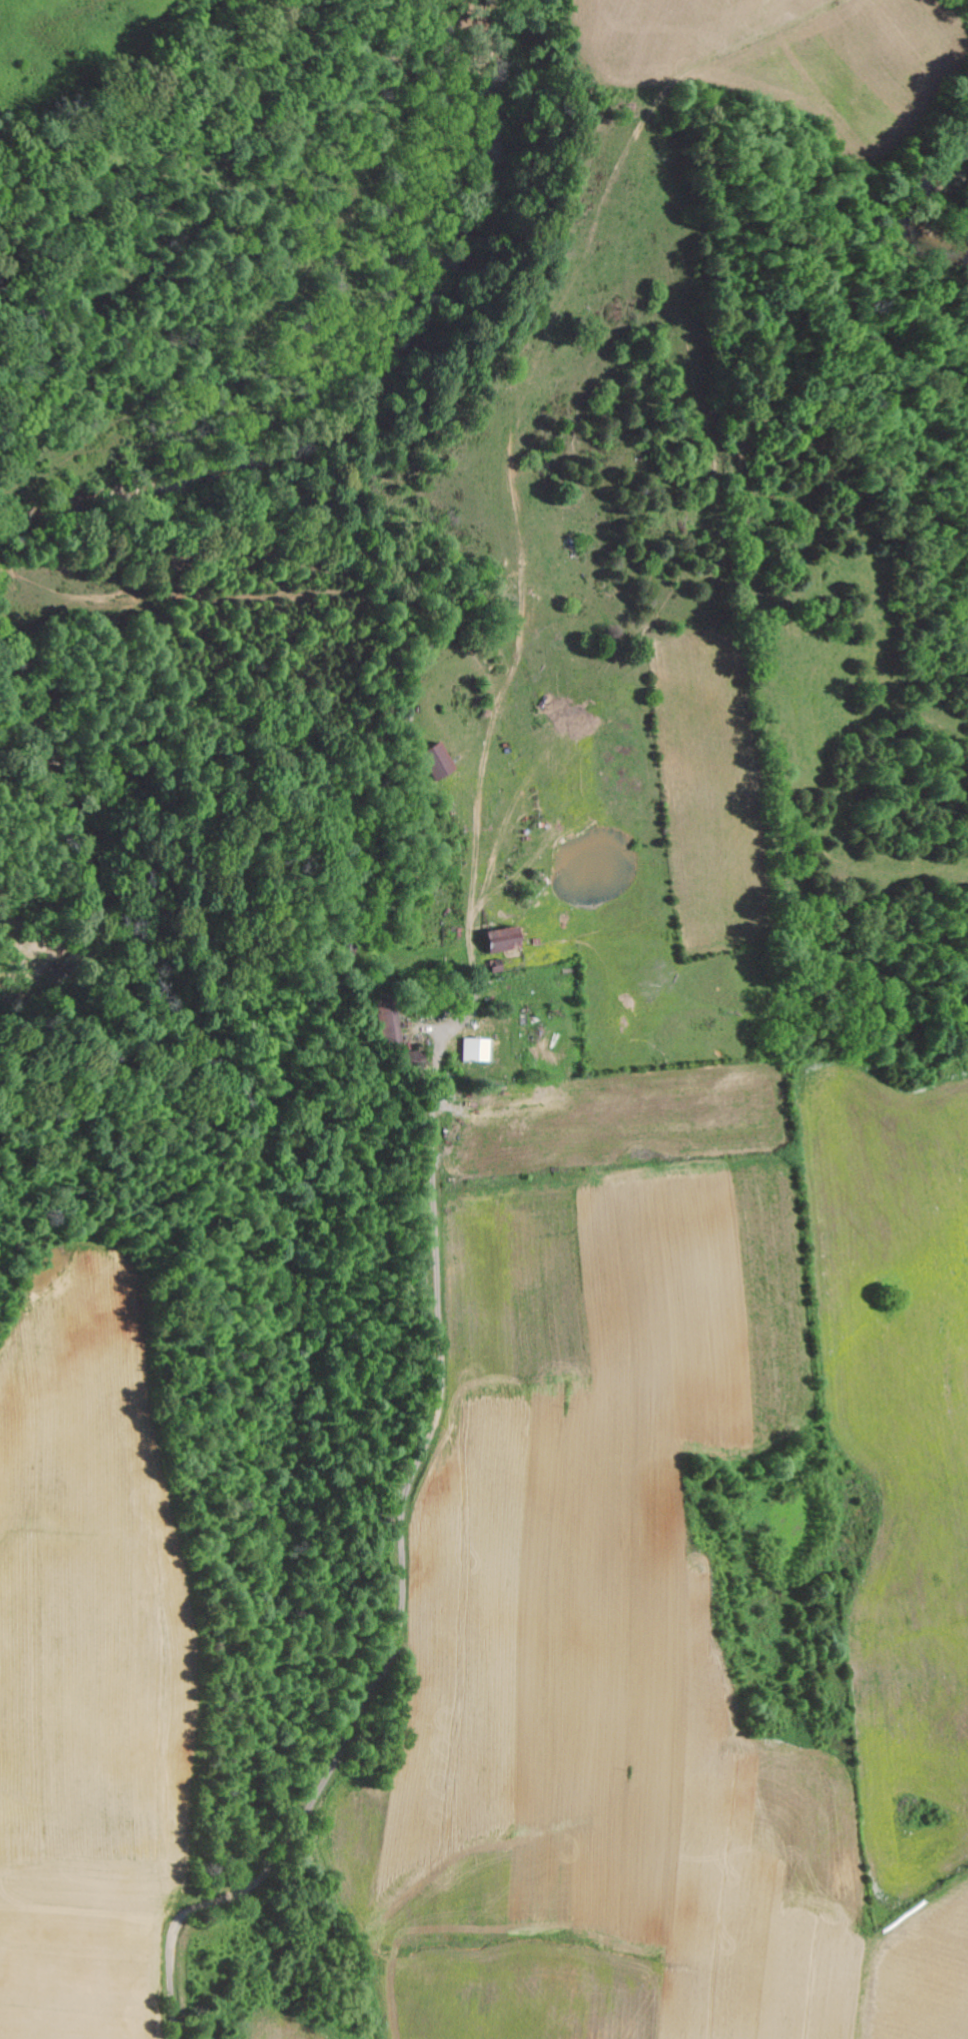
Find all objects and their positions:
building: (441, 759)
building: (507, 937)
building: (391, 1019)
building: (479, 1048)
road: (402, 1582)

